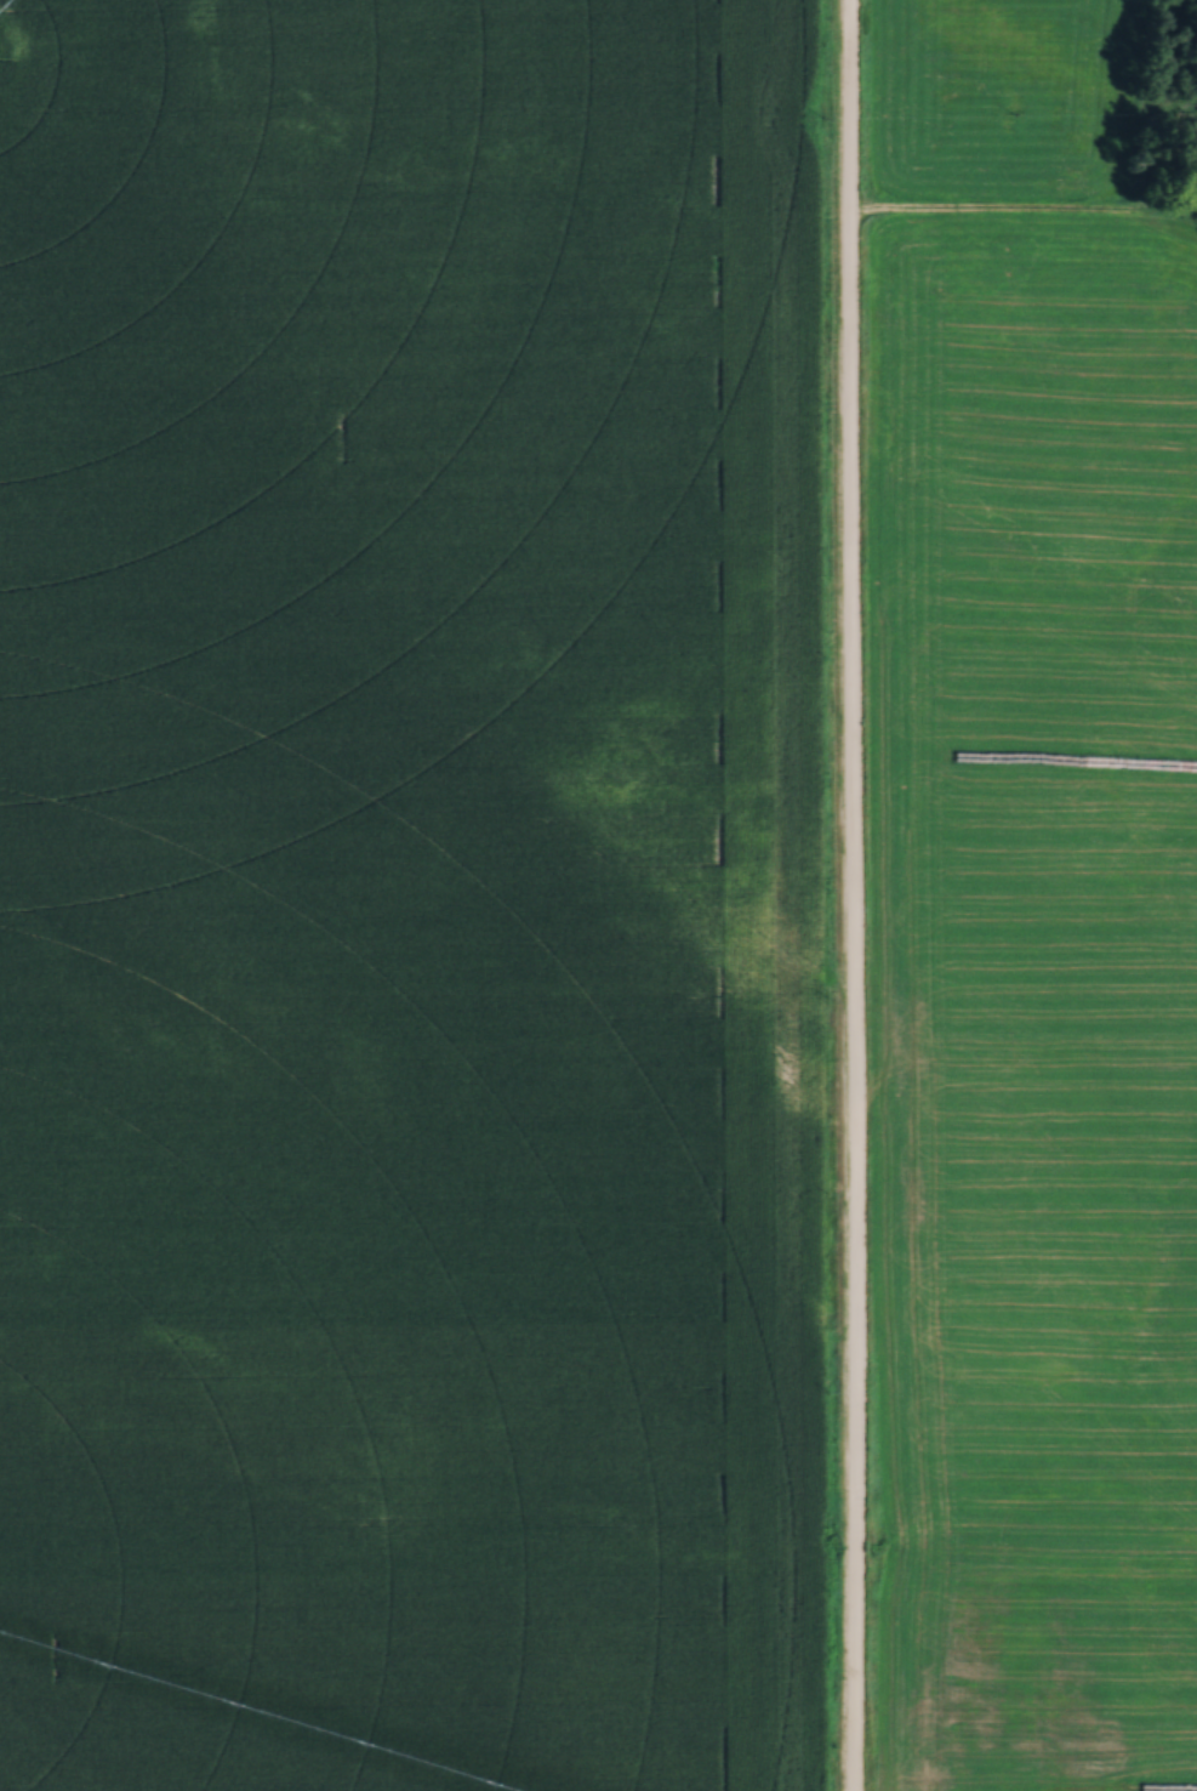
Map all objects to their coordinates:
road: (1022, 215)
road: (853, 894)

